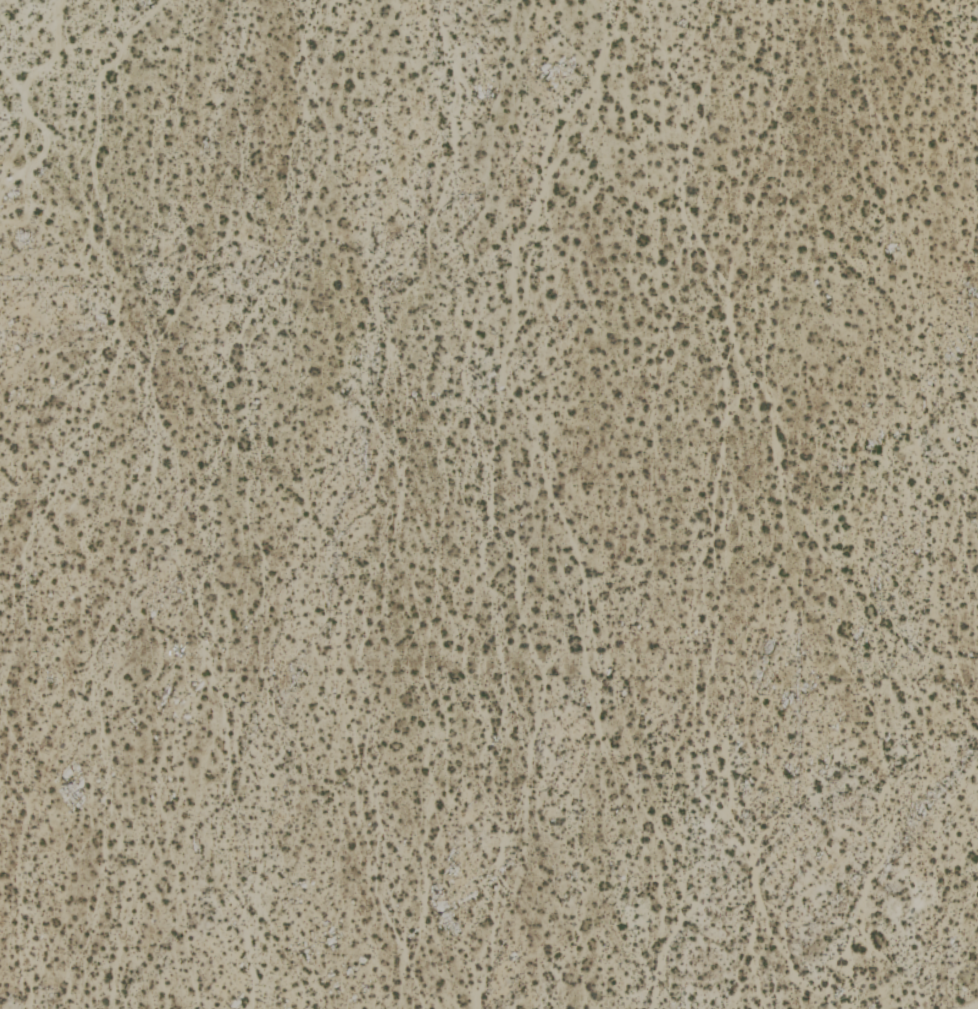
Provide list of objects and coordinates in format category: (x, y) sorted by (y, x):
road: (977, 1008)

